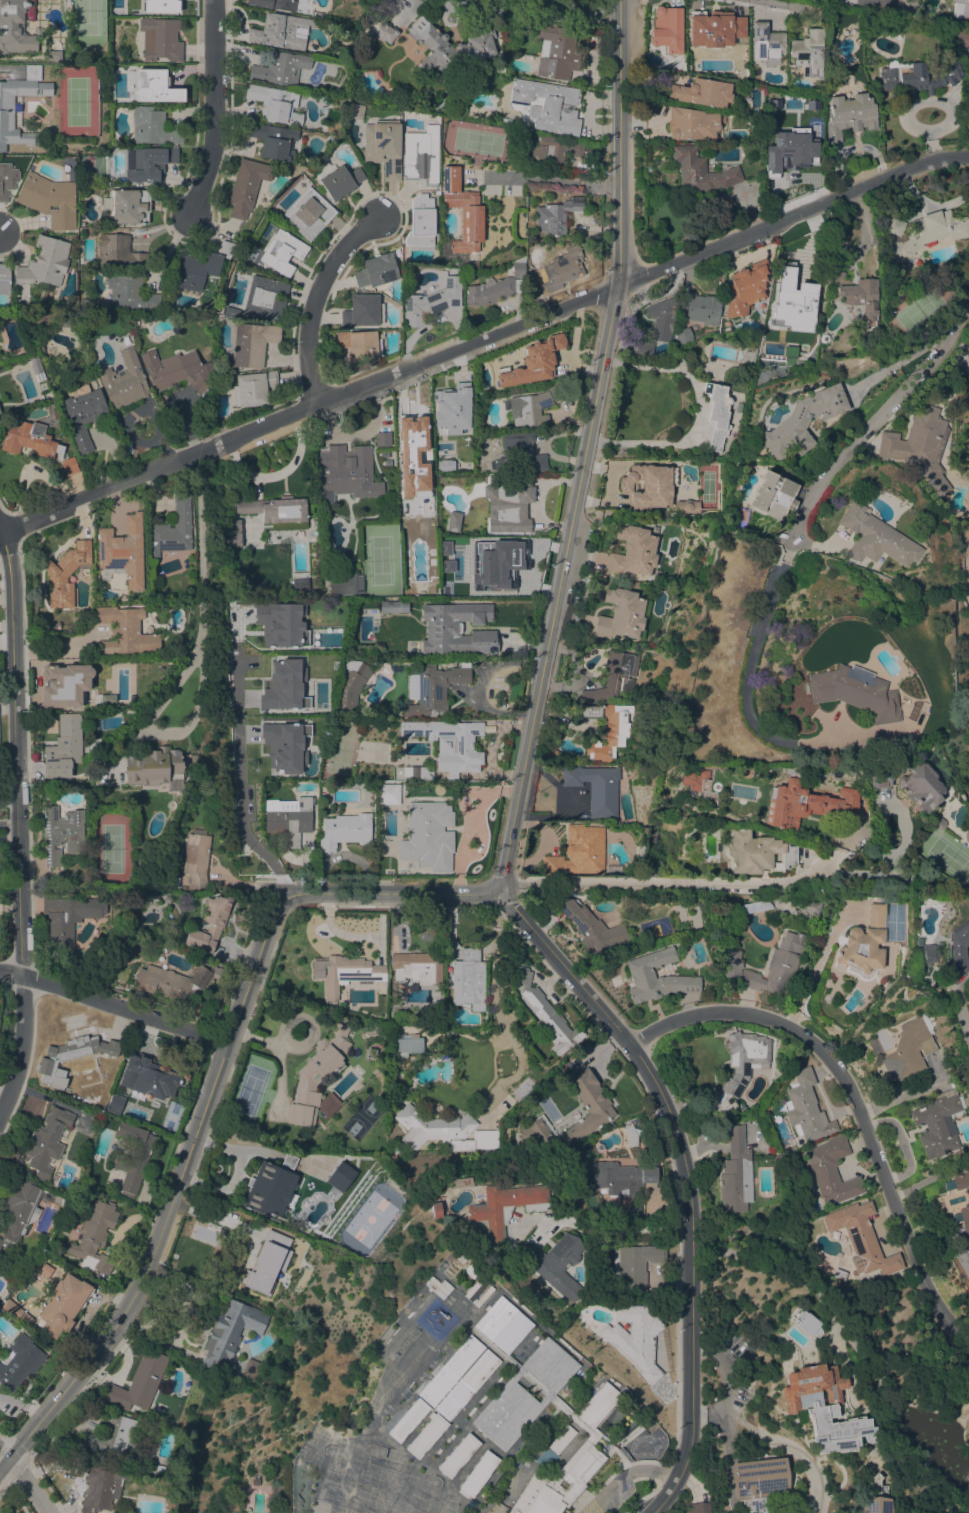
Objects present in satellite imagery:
road: (779, 3)
building: (874, 3)
building: (274, 4)
building: (386, 4)
building: (162, 5)
building: (66, 6)
building: (960, 9)
building: (401, 14)
building: (847, 16)
building: (16, 26)
building: (377, 27)
building: (667, 30)
building: (281, 31)
building: (704, 33)
building: (160, 39)
building: (766, 41)
building: (450, 46)
building: (555, 51)
building: (808, 52)
building: (54, 55)
building: (280, 68)
building: (953, 71)
building: (904, 77)
building: (155, 86)
building: (702, 92)
building: (390, 98)
building: (120, 101)
building: (275, 104)
building: (19, 105)
building: (548, 105)
road: (211, 108)
building: (356, 111)
building: (849, 115)
building: (691, 124)
building: (968, 127)
building: (154, 128)
building: (794, 139)
building: (273, 140)
road: (618, 143)
building: (383, 147)
building: (554, 150)
building: (422, 156)
building: (148, 163)
building: (701, 172)
road: (550, 178)
building: (7, 180)
building: (339, 180)
building: (246, 185)
building: (579, 187)
building: (49, 200)
building: (127, 205)
building: (462, 210)
building: (308, 213)
building: (557, 214)
building: (420, 221)
building: (922, 233)
building: (118, 252)
building: (283, 252)
building: (45, 262)
building: (565, 265)
building: (198, 268)
building: (376, 271)
building: (835, 272)
building: (5, 279)
building: (498, 286)
building: (745, 289)
building: (129, 293)
building: (265, 298)
road: (313, 298)
building: (862, 300)
building: (430, 301)
building: (797, 301)
building: (701, 307)
building: (231, 311)
building: (362, 311)
building: (662, 317)
building: (683, 336)
road: (484, 337)
building: (252, 343)
building: (360, 345)
building: (640, 347)
building: (532, 361)
building: (35, 365)
building: (176, 370)
building: (123, 381)
building: (253, 388)
building: (533, 407)
building: (452, 409)
building: (84, 415)
building: (717, 415)
building: (802, 422)
building: (381, 438)
building: (29, 439)
building: (409, 446)
building: (920, 446)
building: (519, 452)
building: (386, 454)
building: (388, 462)
building: (69, 465)
building: (443, 465)
building: (347, 472)
building: (649, 485)
building: (773, 496)
building: (508, 502)
building: (688, 506)
building: (277, 511)
building: (453, 521)
road: (798, 523)
building: (171, 530)
building: (234, 533)
building: (875, 537)
building: (123, 551)
building: (633, 552)
building: (490, 560)
road: (514, 560)
building: (66, 573)
building: (300, 584)
building: (345, 584)
road: (564, 588)
road: (202, 601)
building: (394, 606)
building: (623, 615)
building: (280, 623)
building: (457, 629)
building: (125, 631)
building: (614, 677)
building: (65, 685)
building: (284, 686)
building: (352, 686)
building: (432, 688)
building: (853, 692)
road: (8, 702)
building: (608, 728)
building: (908, 743)
building: (450, 744)
building: (64, 745)
building: (284, 745)
building: (152, 766)
building: (412, 773)
building: (876, 776)
building: (691, 780)
building: (916, 787)
building: (596, 788)
road: (240, 789)
building: (389, 794)
building: (807, 803)
building: (289, 818)
road: (10, 819)
road: (21, 824)
building: (938, 826)
building: (345, 831)
building: (61, 833)
building: (428, 834)
building: (965, 834)
building: (578, 852)
building: (756, 853)
building: (196, 858)
road: (684, 885)
building: (804, 903)
building: (754, 906)
building: (67, 918)
building: (210, 924)
building: (591, 927)
building: (862, 943)
building: (957, 943)
building: (924, 953)
building: (767, 964)
building: (417, 967)
building: (344, 972)
building: (640, 972)
building: (468, 979)
building: (176, 980)
road: (494, 1002)
road: (113, 1004)
road: (953, 1005)
building: (546, 1013)
building: (409, 1044)
building: (907, 1050)
road: (967, 1050)
building: (71, 1057)
building: (743, 1064)
building: (318, 1078)
building: (146, 1079)
road: (897, 1098)
road: (205, 1101)
building: (114, 1102)
building: (130, 1105)
building: (588, 1106)
building: (806, 1108)
road: (852, 1111)
building: (98, 1114)
building: (938, 1123)
building: (432, 1125)
building: (535, 1133)
building: (631, 1136)
building: (47, 1141)
building: (476, 1141)
building: (400, 1149)
road: (251, 1150)
road: (684, 1154)
building: (140, 1158)
building: (831, 1171)
road: (234, 1173)
building: (736, 1173)
building: (341, 1176)
building: (622, 1178)
building: (957, 1182)
building: (272, 1187)
building: (56, 1199)
building: (19, 1209)
building: (505, 1209)
building: (435, 1210)
building: (962, 1218)
road: (607, 1226)
building: (95, 1235)
building: (862, 1239)
building: (4, 1258)
building: (19, 1261)
building: (964, 1262)
building: (555, 1263)
building: (634, 1266)
building: (470, 1270)
building: (264, 1274)
building: (62, 1304)
building: (12, 1309)
building: (807, 1323)
building: (500, 1327)
building: (231, 1332)
building: (635, 1337)
building: (20, 1362)
building: (511, 1362)
building: (251, 1370)
building: (451, 1370)
building: (139, 1382)
building: (466, 1385)
building: (524, 1394)
building: (561, 1407)
building: (595, 1407)
building: (823, 1407)
building: (408, 1420)
building: (112, 1436)
building: (427, 1436)
building: (592, 1436)
building: (561, 1439)
road: (727, 1450)
building: (458, 1455)
building: (156, 1468)
building: (478, 1474)
building: (580, 1476)
road: (624, 1477)
building: (758, 1481)
road: (21, 1482)
building: (102, 1486)
road: (664, 1496)
building: (876, 1497)
building: (697, 1507)
building: (843, 1511)

